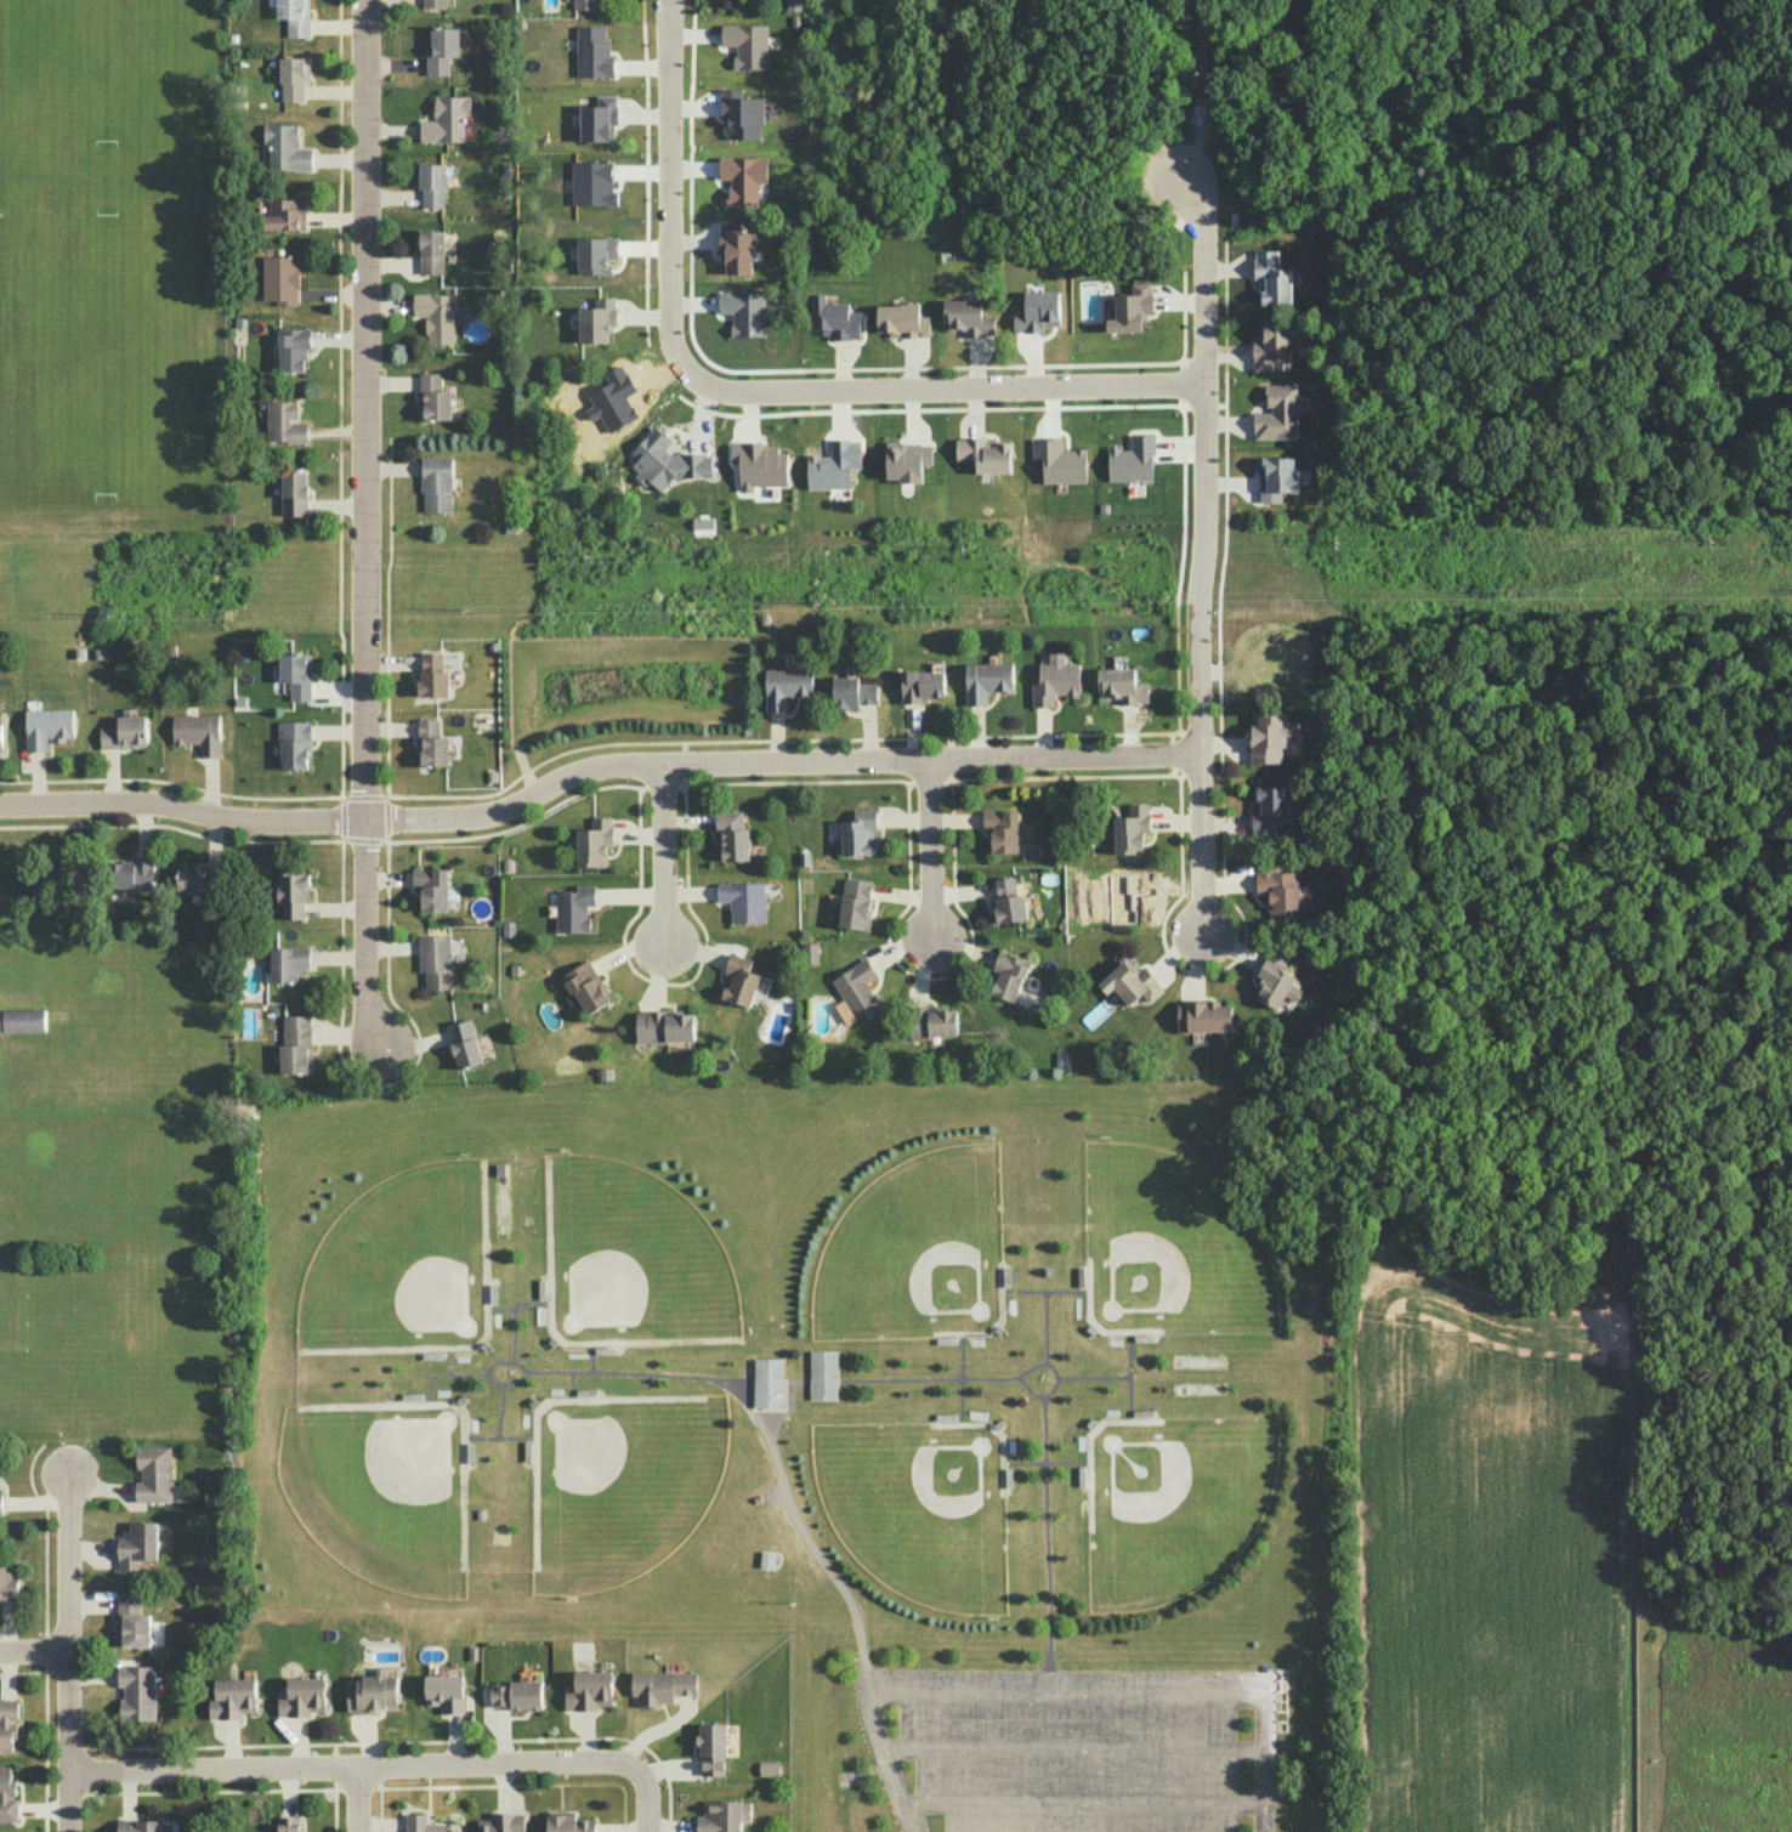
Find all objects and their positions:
building: (433, 4)
building: (585, 4)
building: (295, 16)
building: (747, 44)
building: (441, 49)
building: (592, 52)
park: (103, 75)
building: (293, 76)
building: (739, 114)
building: (446, 119)
building: (599, 119)
building: (285, 147)
building: (743, 176)
building: (432, 183)
road: (669, 197)
building: (284, 215)
building: (736, 248)
building: (430, 250)
building: (279, 278)
building: (1271, 278)
building: (1130, 308)
building: (744, 312)
building: (1037, 312)
building: (435, 316)
building: (968, 317)
building: (834, 318)
building: (596, 321)
building: (902, 321)
building: (1272, 342)
building: (293, 347)
park: (106, 355)
road: (948, 393)
building: (433, 397)
building: (1278, 412)
building: (284, 422)
building: (985, 453)
building: (1132, 459)
building: (906, 460)
building: (1060, 460)
building: (667, 461)
building: (760, 464)
building: (834, 465)
building: (1276, 477)
building: (436, 482)
building: (293, 492)
road: (363, 527)
power tower: (1338, 549)
power tower: (1713, 549)
power tower: (964, 551)
road: (1203, 552)
power tower: (589, 554)
power tower: (229, 565)
power tower: (1168, 590)
power tower: (1510, 590)
power tower: (817, 605)
power tower: (465, 612)
power tower: (113, 619)
building: (1272, 657)
building: (295, 674)
building: (432, 675)
building: (986, 680)
building: (1055, 680)
building: (921, 685)
building: (1122, 685)
building: (786, 686)
building: (852, 692)
building: (47, 727)
building: (125, 732)
building: (198, 732)
building: (0, 736)
building: (1270, 736)
building: (294, 743)
building: (431, 743)
road: (778, 762)
building: (1270, 807)
road: (183, 812)
building: (1130, 828)
building: (1002, 829)
building: (858, 832)
building: (731, 835)
building: (594, 841)
road: (930, 852)
road: (662, 857)
building: (131, 869)
building: (199, 879)
building: (431, 887)
building: (293, 894)
building: (1280, 894)
building: (743, 900)
building: (1009, 901)
building: (855, 903)
building: (573, 908)
building: (809, 952)
building: (435, 960)
building: (288, 963)
building: (1008, 975)
building: (738, 980)
building: (1130, 981)
building: (1275, 982)
building: (586, 986)
building: (856, 987)
building: (1203, 1015)
building: (22, 1020)
building: (934, 1022)
building: (664, 1025)
building: (464, 1043)
building: (295, 1044)
park: (923, 1250)
park: (1162, 1253)
park: (639, 1263)
park: (413, 1269)
road: (1047, 1289)
road: (1042, 1326)
road: (523, 1333)
road: (473, 1371)
building: (823, 1374)
road: (928, 1377)
road: (958, 1377)
road: (1128, 1377)
road: (1091, 1378)
building: (767, 1382)
road: (738, 1397)
road: (515, 1406)
road: (506, 1433)
building: (153, 1473)
park: (628, 1476)
park: (396, 1484)
park: (1179, 1502)
building: (0, 1503)
park: (915, 1507)
road: (1044, 1533)
building: (137, 1544)
building: (7, 1582)
building: (131, 1621)
road: (33, 1652)
road: (66, 1654)
road: (22, 1671)
building: (662, 1686)
road: (868, 1689)
building: (589, 1690)
building: (136, 1691)
building: (444, 1691)
building: (372, 1694)
building: (517, 1695)
building: (301, 1696)
building: (232, 1697)
road: (1127, 1698)
building: (7, 1722)
building: (713, 1747)
road: (1073, 1749)
parking lot: (1088, 1749)
road: (45, 1751)
building: (769, 1768)
road: (891, 1769)
road: (353, 1771)
building: (7, 1796)
road: (357, 1802)
road: (1084, 1803)
road: (646, 1804)
road: (40, 1809)
building: (720, 1816)
building: (501, 1822)
building: (568, 1822)
building: (288, 1824)
building: (424, 1824)
building: (138, 1826)

